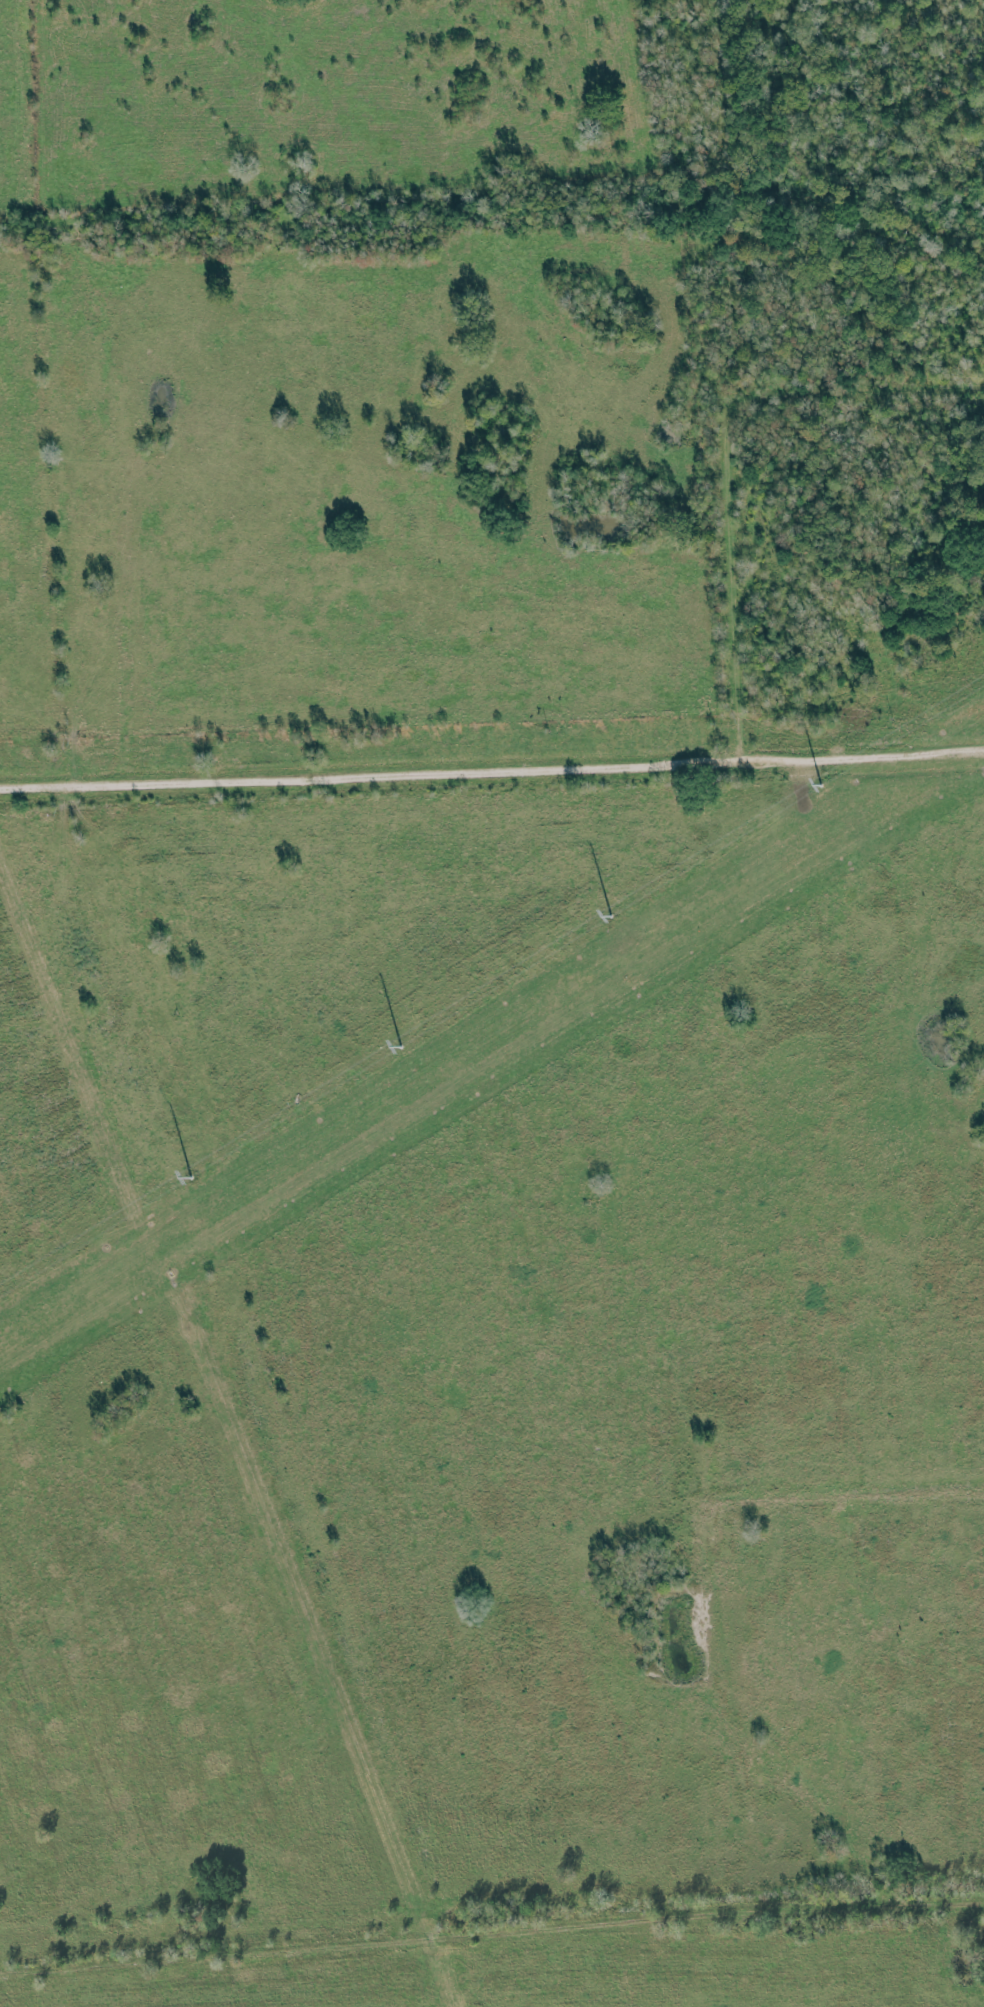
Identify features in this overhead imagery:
road: (724, 454)
road: (492, 771)
road: (491, 1921)

